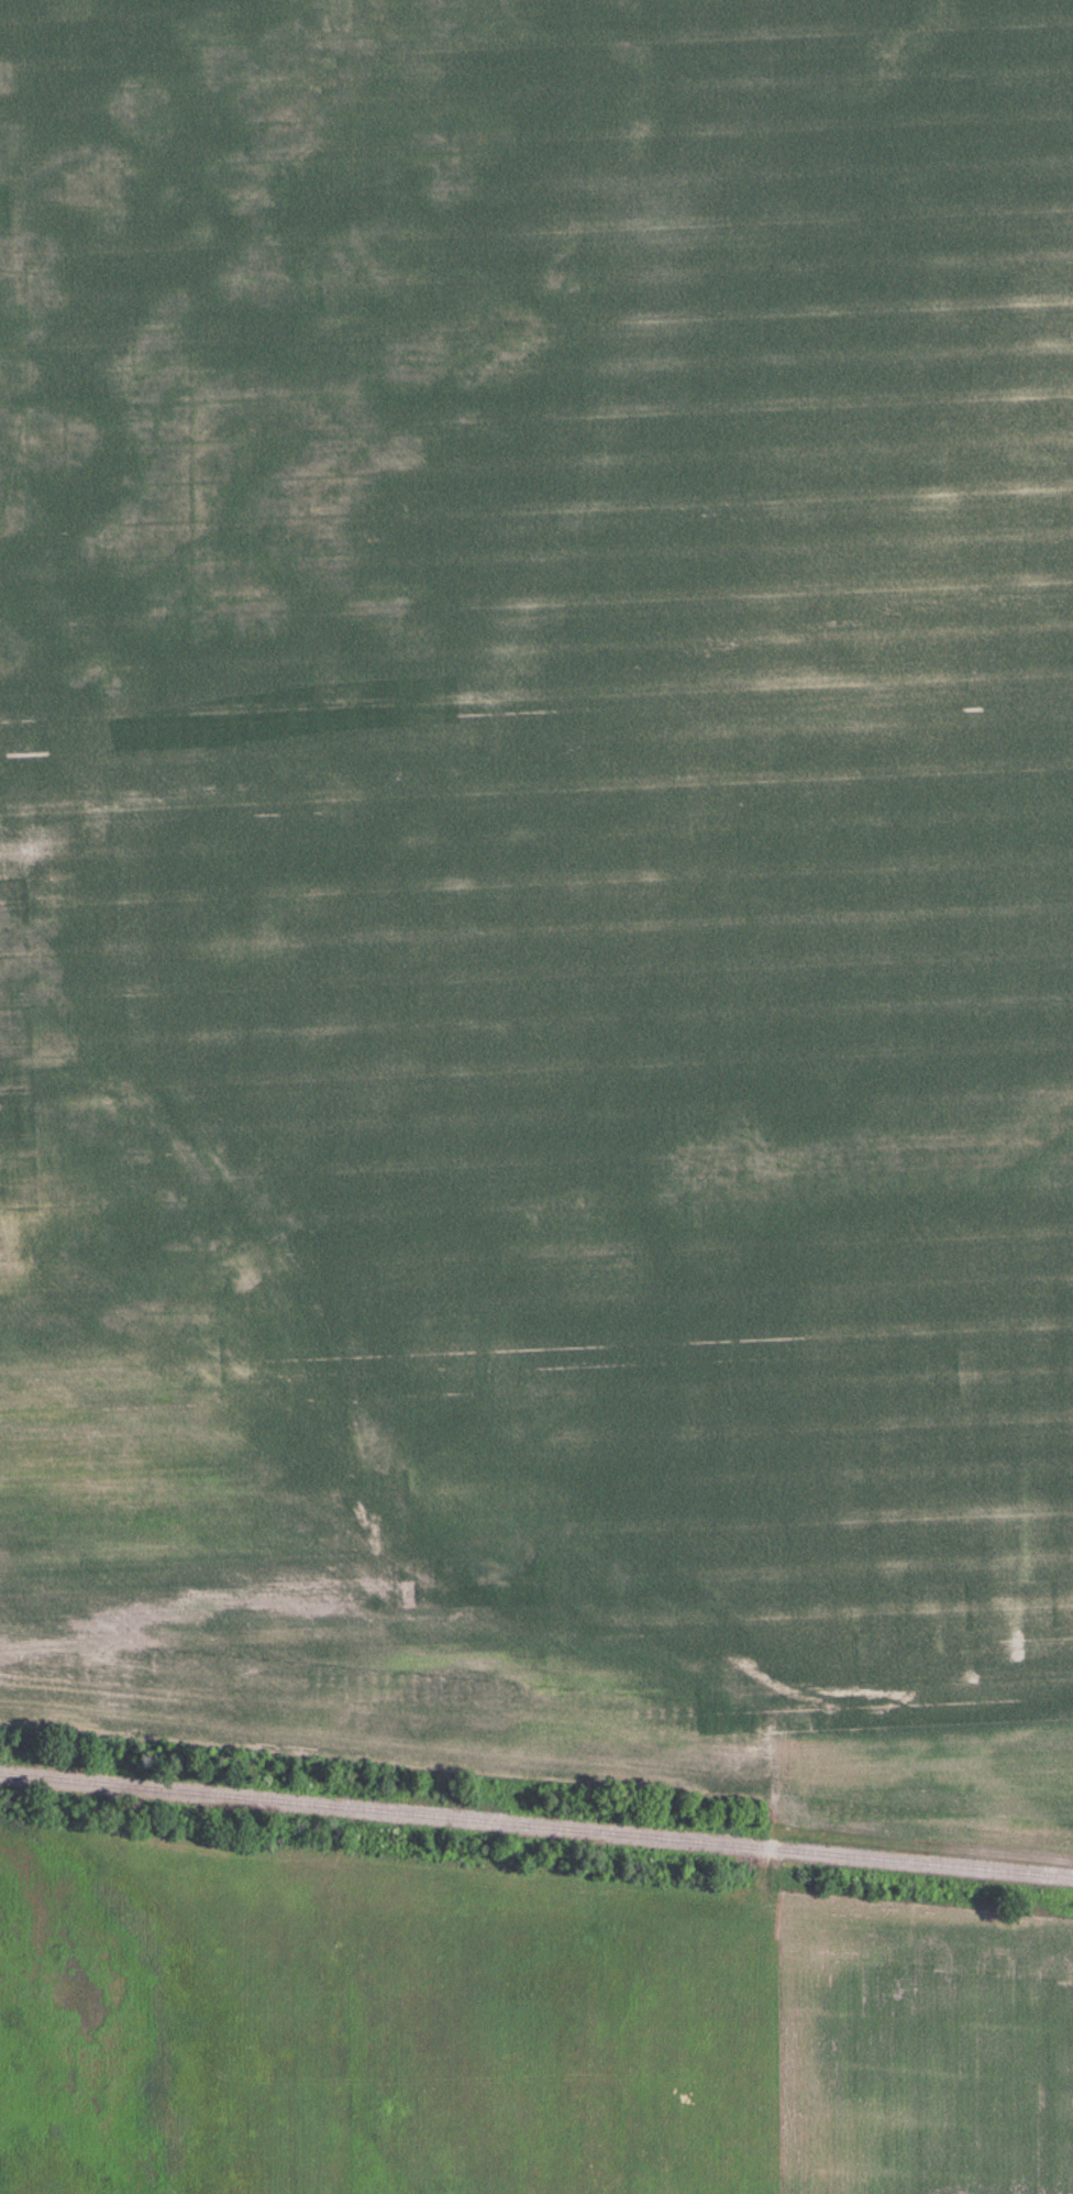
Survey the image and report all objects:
railway: (536, 1826)

